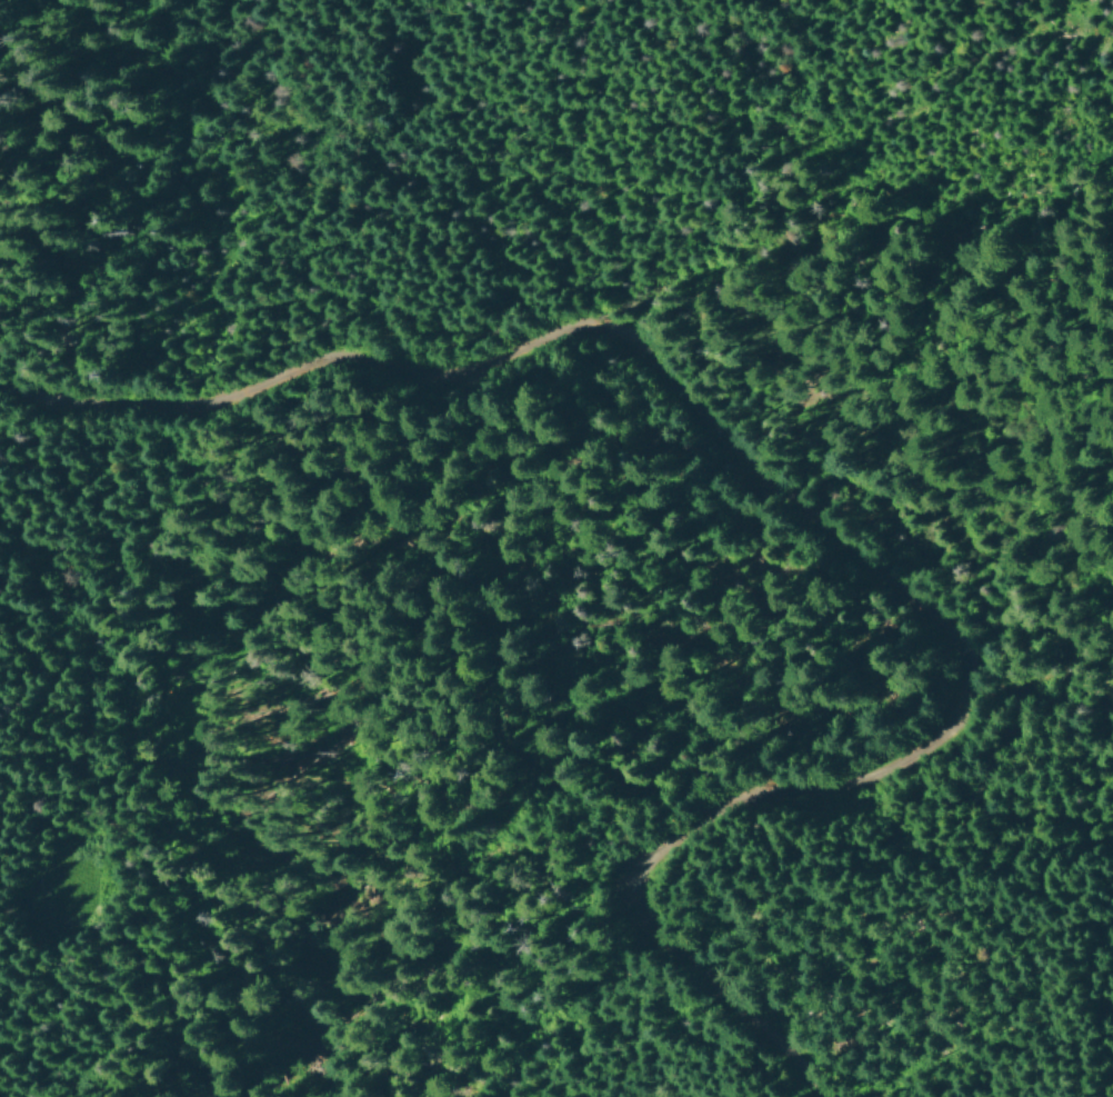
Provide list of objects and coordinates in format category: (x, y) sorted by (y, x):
road: (825, 531)

